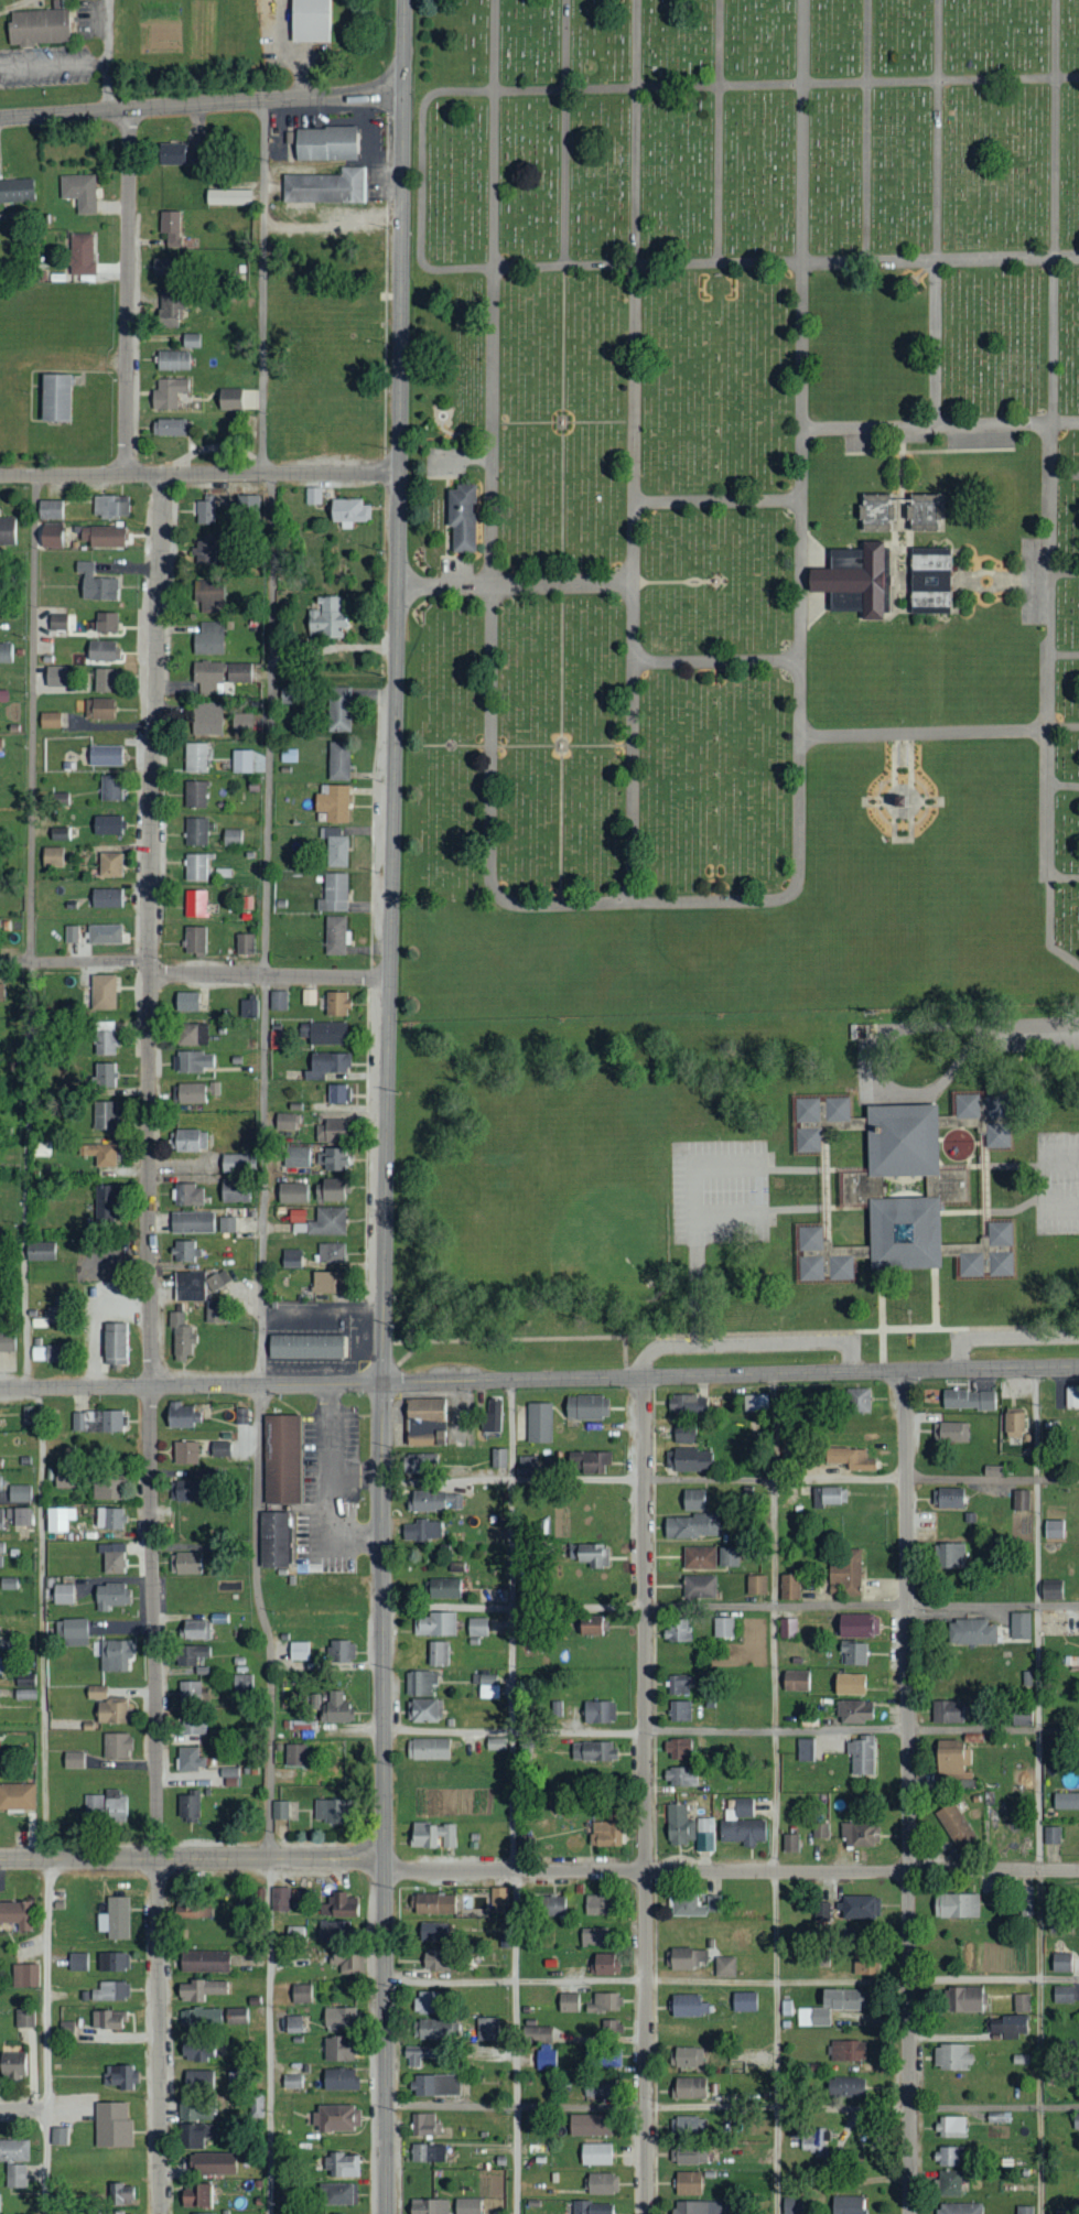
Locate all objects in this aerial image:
building: (309, 21)
building: (37, 26)
road: (287, 51)
road: (108, 55)
road: (787, 84)
road: (201, 104)
road: (866, 130)
road: (719, 132)
road: (565, 133)
building: (324, 143)
building: (171, 153)
road: (420, 182)
building: (323, 187)
building: (15, 190)
building: (78, 191)
building: (227, 196)
road: (937, 213)
building: (171, 227)
building: (79, 252)
road: (786, 263)
building: (165, 267)
road: (261, 287)
road: (127, 291)
building: (170, 311)
building: (190, 341)
building: (172, 359)
building: (168, 392)
building: (55, 398)
building: (228, 399)
road: (939, 424)
building: (168, 426)
road: (1054, 439)
road: (801, 446)
road: (492, 447)
road: (634, 451)
road: (199, 473)
road: (1066, 475)
building: (312, 496)
road: (717, 503)
building: (247, 506)
park: (743, 506)
building: (109, 507)
building: (48, 509)
building: (205, 510)
building: (875, 510)
building: (922, 510)
building: (347, 511)
building: (465, 515)
building: (7, 530)
building: (50, 536)
building: (101, 536)
building: (204, 552)
road: (1066, 573)
building: (855, 577)
building: (930, 579)
building: (96, 583)
road: (515, 585)
building: (209, 596)
building: (325, 618)
building: (56, 622)
building: (106, 622)
building: (208, 638)
building: (101, 650)
building: (6, 652)
road: (1066, 655)
road: (716, 662)
building: (219, 676)
building: (104, 680)
road: (396, 692)
building: (100, 709)
building: (338, 710)
building: (207, 719)
building: (48, 720)
building: (241, 723)
road: (938, 731)
building: (105, 755)
building: (288, 755)
building: (195, 757)
road: (903, 758)
building: (241, 760)
building: (338, 762)
road: (1065, 785)
building: (110, 788)
building: (195, 793)
building: (904, 796)
building: (332, 802)
building: (106, 824)
building: (196, 832)
building: (58, 833)
building: (231, 838)
building: (335, 849)
building: (54, 855)
building: (109, 865)
building: (196, 867)
road: (1065, 877)
building: (333, 892)
building: (106, 898)
road: (644, 903)
building: (195, 904)
road: (1050, 928)
road: (29, 931)
building: (71, 935)
building: (104, 935)
building: (335, 936)
building: (195, 939)
building: (245, 943)
road: (73, 961)
road: (268, 976)
building: (100, 992)
building: (1, 993)
building: (307, 997)
building: (278, 1000)
building: (186, 1002)
building: (336, 1004)
building: (247, 1008)
road: (1034, 1024)
building: (1028, 1029)
building: (327, 1034)
building: (192, 1035)
building: (104, 1038)
road: (965, 1049)
building: (193, 1061)
building: (326, 1065)
building: (102, 1076)
building: (214, 1089)
building: (191, 1093)
building: (338, 1094)
building: (105, 1115)
building: (285, 1122)
building: (331, 1131)
building: (187, 1141)
building: (41, 1149)
road: (1058, 1153)
building: (99, 1154)
building: (296, 1157)
building: (333, 1160)
road: (744, 1163)
building: (234, 1164)
road: (1008, 1164)
road: (798, 1167)
park: (569, 1179)
building: (902, 1188)
building: (328, 1190)
building: (234, 1191)
building: (293, 1192)
building: (188, 1196)
building: (104, 1203)
road: (798, 1206)
road: (1057, 1206)
road: (992, 1209)
building: (319, 1221)
building: (192, 1222)
building: (227, 1224)
building: (184, 1250)
building: (40, 1251)
building: (332, 1253)
building: (291, 1259)
building: (326, 1283)
building: (197, 1285)
road: (698, 1292)
road: (935, 1298)
building: (51, 1317)
road: (881, 1320)
road: (730, 1332)
building: (181, 1336)
road: (1003, 1336)
road: (751, 1341)
building: (7, 1342)
road: (149, 1342)
building: (115, 1344)
road: (260, 1344)
building: (306, 1347)
building: (47, 1353)
road: (730, 1373)
road: (191, 1385)
building: (1071, 1397)
building: (857, 1400)
building: (968, 1400)
building: (755, 1403)
building: (688, 1404)
building: (585, 1407)
building: (28, 1414)
building: (182, 1416)
building: (492, 1416)
building: (98, 1421)
building: (424, 1422)
building: (539, 1423)
building: (1014, 1425)
building: (952, 1433)
building: (686, 1434)
building: (220, 1449)
building: (185, 1452)
building: (498, 1458)
building: (282, 1459)
building: (849, 1459)
building: (688, 1460)
building: (421, 1461)
building: (0, 1462)
building: (587, 1464)
building: (527, 1466)
building: (994, 1469)
road: (356, 1476)
road: (730, 1477)
building: (64, 1479)
building: (108, 1488)
road: (330, 1488)
building: (182, 1490)
building: (19, 1492)
building: (831, 1495)
building: (948, 1498)
building: (692, 1500)
building: (1021, 1500)
building: (435, 1502)
building: (19, 1515)
building: (110, 1518)
building: (1, 1519)
building: (56, 1519)
building: (692, 1526)
building: (1054, 1530)
building: (422, 1531)
building: (274, 1538)
building: (1, 1551)
building: (949, 1554)
building: (589, 1555)
building: (727, 1556)
building: (112, 1557)
building: (700, 1557)
building: (185, 1562)
building: (846, 1570)
building: (8, 1583)
building: (756, 1584)
building: (789, 1586)
building: (699, 1587)
building: (442, 1588)
building: (1050, 1590)
building: (62, 1594)
building: (110, 1595)
road: (731, 1605)
building: (435, 1623)
building: (590, 1624)
building: (857, 1624)
building: (1019, 1624)
building: (723, 1626)
building: (477, 1627)
building: (787, 1627)
building: (195, 1629)
building: (677, 1629)
building: (72, 1631)
building: (971, 1631)
building: (298, 1650)
building: (341, 1651)
building: (191, 1653)
building: (438, 1653)
building: (853, 1653)
building: (115, 1654)
building: (0, 1664)
building: (795, 1680)
building: (241, 1682)
building: (420, 1683)
building: (850, 1683)
building: (680, 1684)
building: (25, 1685)
building: (486, 1685)
building: (190, 1689)
building: (96, 1692)
building: (334, 1707)
building: (424, 1709)
building: (111, 1710)
building: (680, 1710)
building: (854, 1710)
building: (598, 1711)
building: (947, 1711)
building: (1021, 1716)
building: (809, 1720)
building: (195, 1727)
road: (731, 1730)
building: (495, 1743)
building: (116, 1745)
building: (678, 1747)
building: (427, 1748)
building: (806, 1749)
building: (593, 1750)
building: (294, 1754)
building: (861, 1754)
building: (73, 1759)
building: (190, 1759)
building: (949, 1759)
building: (228, 1771)
building: (680, 1775)
building: (230, 1782)
road: (908, 1791)
road: (1038, 1791)
road: (776, 1793)
road: (645, 1794)
building: (17, 1796)
road: (512, 1797)
road: (384, 1799)
road: (46, 1800)
building: (1066, 1800)
building: (106, 1804)
building: (187, 1806)
building: (280, 1810)
building: (330, 1810)
building: (742, 1823)
building: (679, 1824)
building: (954, 1824)
building: (705, 1825)
building: (820, 1829)
building: (606, 1833)
building: (859, 1833)
building: (432, 1834)
building: (1051, 1834)
building: (790, 1842)
road: (538, 1870)
building: (280, 1899)
building: (498, 1899)
building: (1025, 1901)
building: (433, 1903)
building: (338, 1904)
building: (550, 1904)
building: (595, 1904)
building: (694, 1904)
building: (956, 1904)
building: (860, 1907)
building: (822, 1910)
building: (15, 1914)
building: (117, 1916)
building: (333, 1929)
building: (432, 1931)
building: (295, 1932)
building: (594, 1935)
building: (688, 1957)
building: (435, 1959)
building: (114, 1961)
building: (204, 1961)
building: (78, 1962)
building: (1061, 1962)
building: (350, 1963)
building: (602, 1963)
building: (864, 1965)
building: (725, 1966)
building: (25, 1975)
road: (732, 1979)
building: (111, 1990)
building: (201, 1990)
building: (301, 1994)
building: (1062, 1994)
building: (964, 1999)
building: (425, 2001)
building: (604, 2001)
building: (744, 2001)
building: (569, 2002)
building: (1022, 2002)
building: (688, 2005)
building: (830, 2006)
building: (199, 2016)
building: (236, 2016)
building: (339, 2017)
building: (24, 2018)
building: (108, 2019)
building: (293, 2023)
building: (611, 2026)
building: (1010, 2026)
building: (431, 2028)
building: (66, 2029)
building: (486, 2029)
building: (543, 2049)
building: (337, 2050)
building: (846, 2050)
building: (197, 2053)
building: (417, 2053)
building: (688, 2056)
building: (951, 2056)
building: (608, 2059)
building: (1019, 2059)
building: (12, 2065)
building: (119, 2076)
building: (198, 2078)
building: (338, 2078)
building: (292, 2081)
building: (435, 2084)
building: (598, 2085)
building: (845, 2086)
building: (690, 2087)
road: (732, 2103)
building: (255, 2105)
road: (24, 2108)
building: (195, 2110)
building: (336, 2118)
building: (1076, 2120)
building: (589, 2124)
building: (111, 2125)
building: (424, 2125)
building: (683, 2125)
building: (701, 2125)
building: (951, 2126)
building: (197, 2134)
building: (60, 2136)
building: (813, 2140)
building: (13, 2150)
building: (428, 2152)
building: (595, 2153)
building: (688, 2154)
building: (949, 2154)
building: (213, 2163)
building: (339, 2164)
building: (15, 2175)
building: (602, 2183)
building: (688, 2183)
building: (948, 2183)
building: (120, 2193)
building: (338, 2193)
building: (197, 2196)
building: (848, 2204)
building: (466, 2205)
building: (792, 2205)
building: (428, 2206)
building: (592, 2207)
building: (695, 2207)
building: (959, 2207)
building: (1024, 2210)
building: (119, 2213)
building: (193, 2213)

